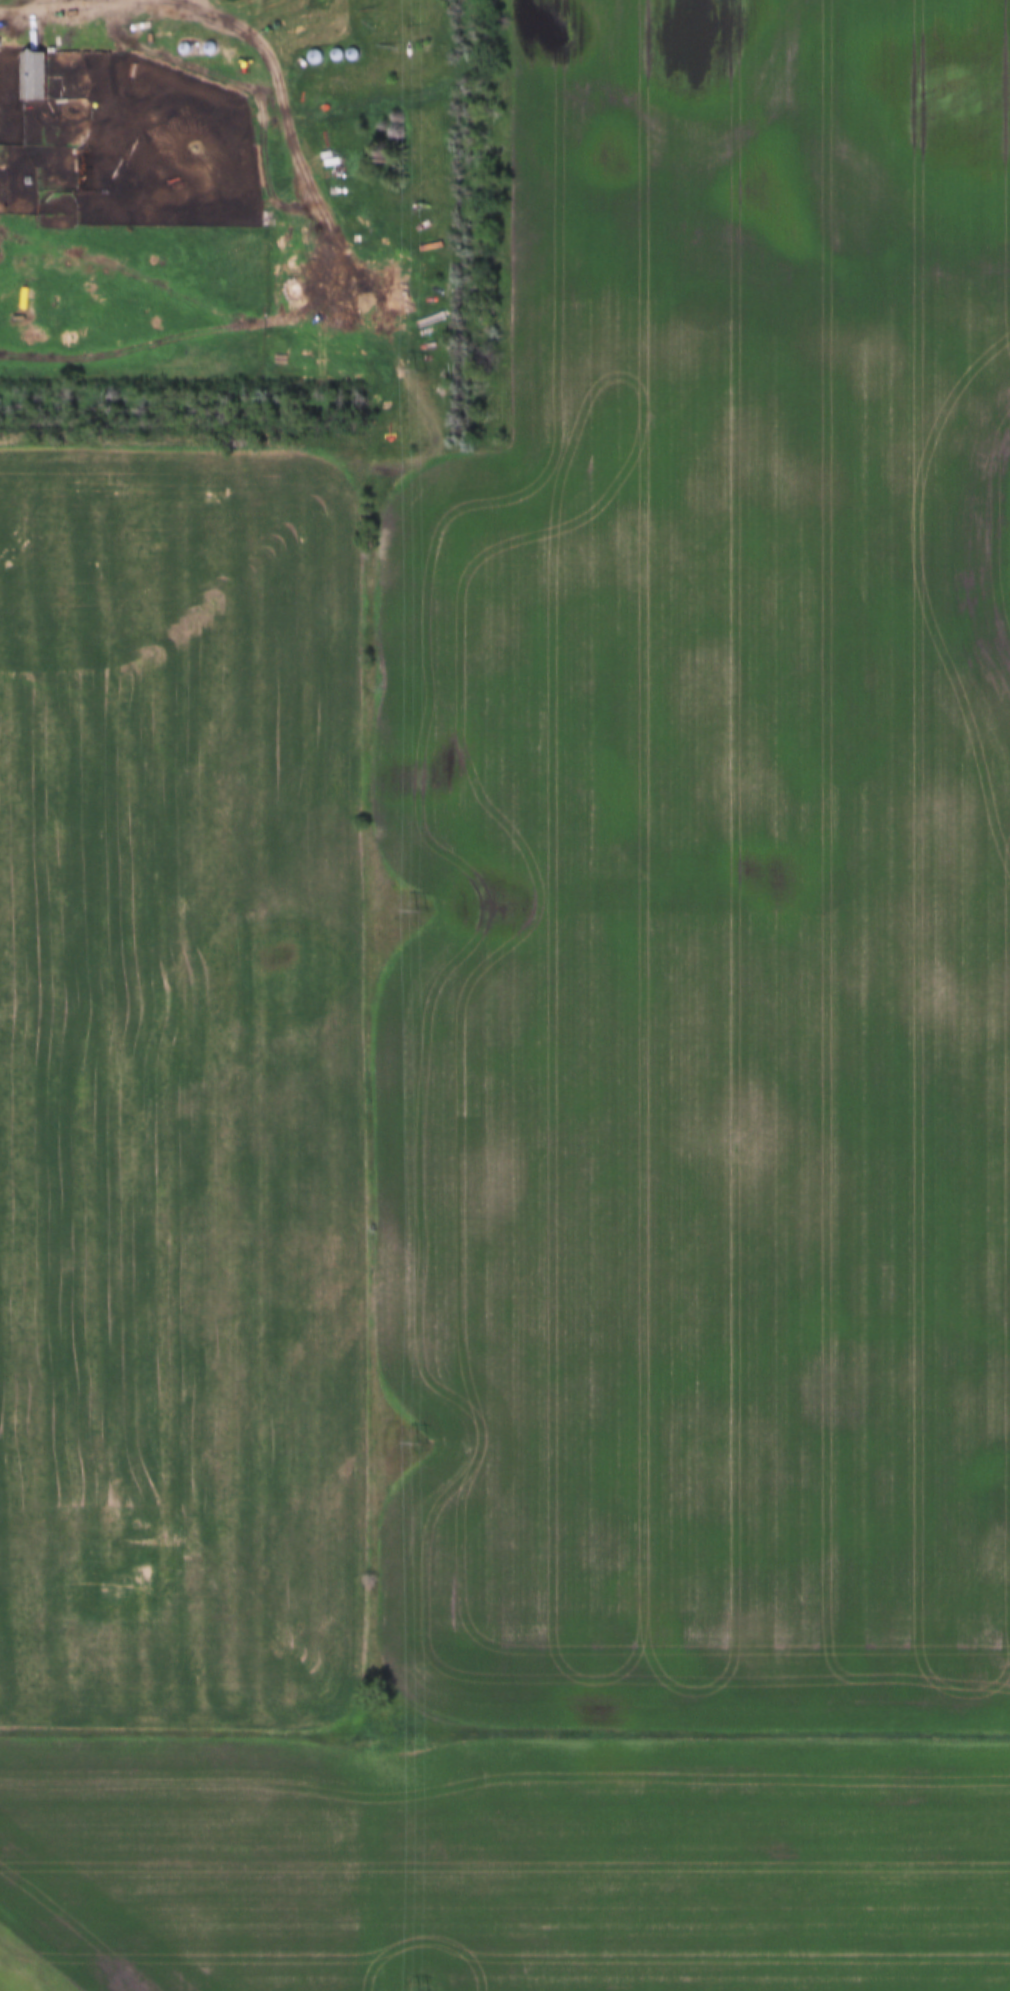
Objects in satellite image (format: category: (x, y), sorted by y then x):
road: (79, 3)
road: (99, 4)
road: (42, 9)
building: (317, 57)
building: (35, 75)
power tower: (420, 369)
road: (429, 413)
power tower: (422, 911)
power tower: (423, 1444)

